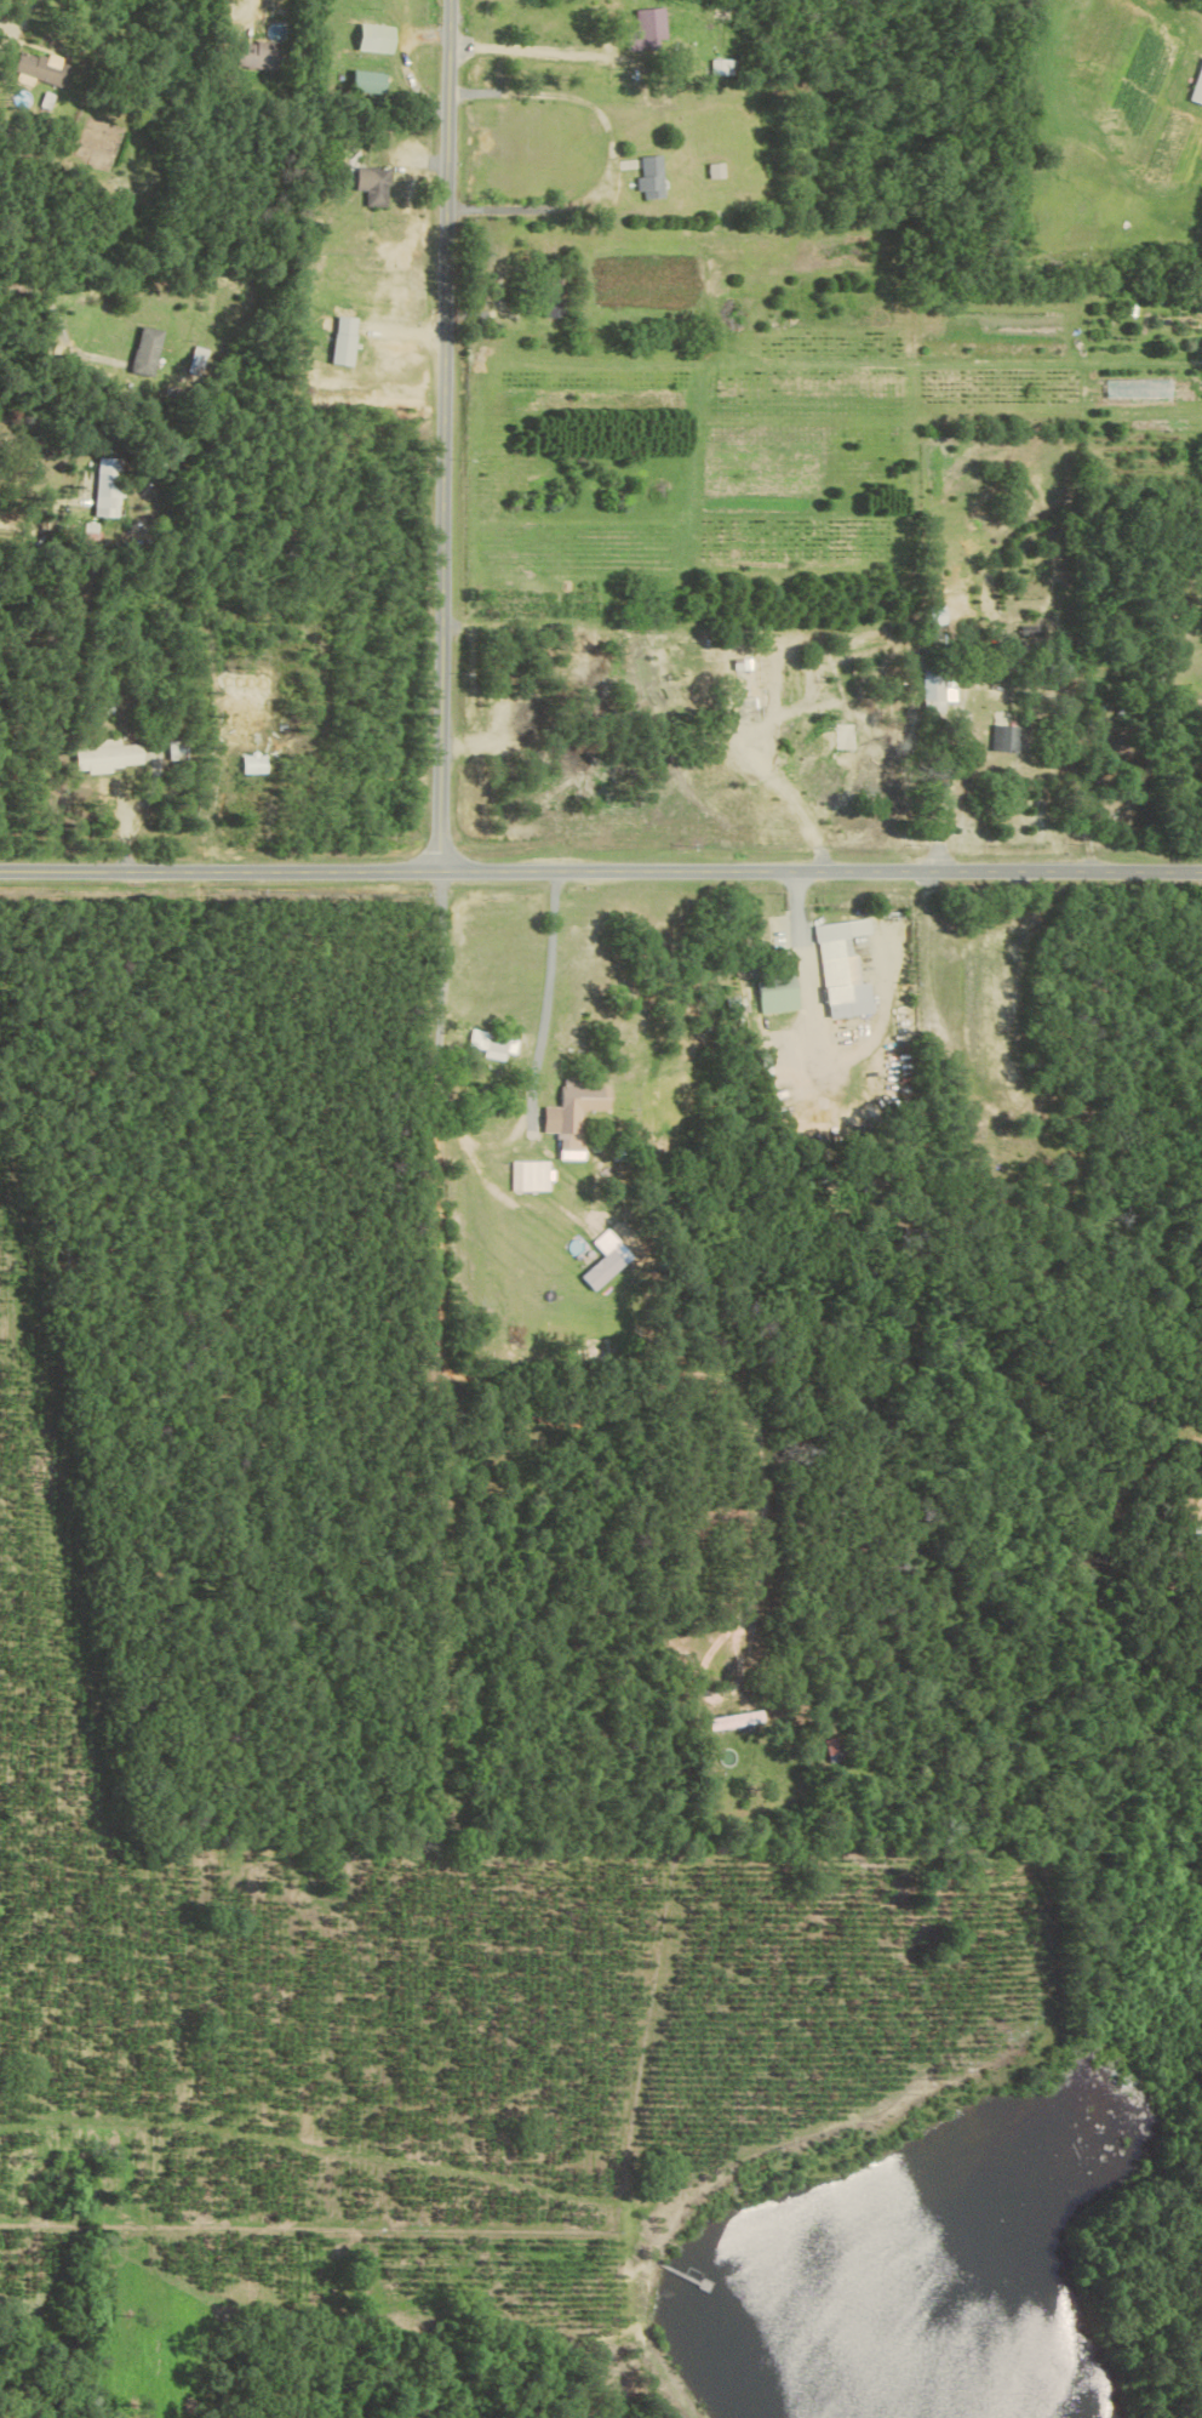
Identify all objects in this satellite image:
building: (649, 30)
building: (377, 39)
road: (540, 52)
building: (258, 53)
building: (40, 68)
building: (726, 68)
building: (370, 81)
building: (1197, 89)
road: (612, 153)
building: (717, 171)
building: (653, 178)
building: (376, 186)
road: (62, 319)
building: (347, 341)
building: (147, 350)
road: (454, 435)
building: (108, 486)
road: (39, 502)
building: (940, 614)
building: (940, 684)
building: (1008, 737)
building: (111, 754)
building: (256, 763)
road: (948, 794)
road: (144, 809)
road: (600, 869)
building: (848, 969)
road: (808, 977)
building: (780, 993)
road: (548, 997)
building: (493, 1044)
road: (450, 1087)
building: (573, 1114)
building: (531, 1175)
building: (607, 1260)
building: (734, 1721)
pier: (677, 2272)

